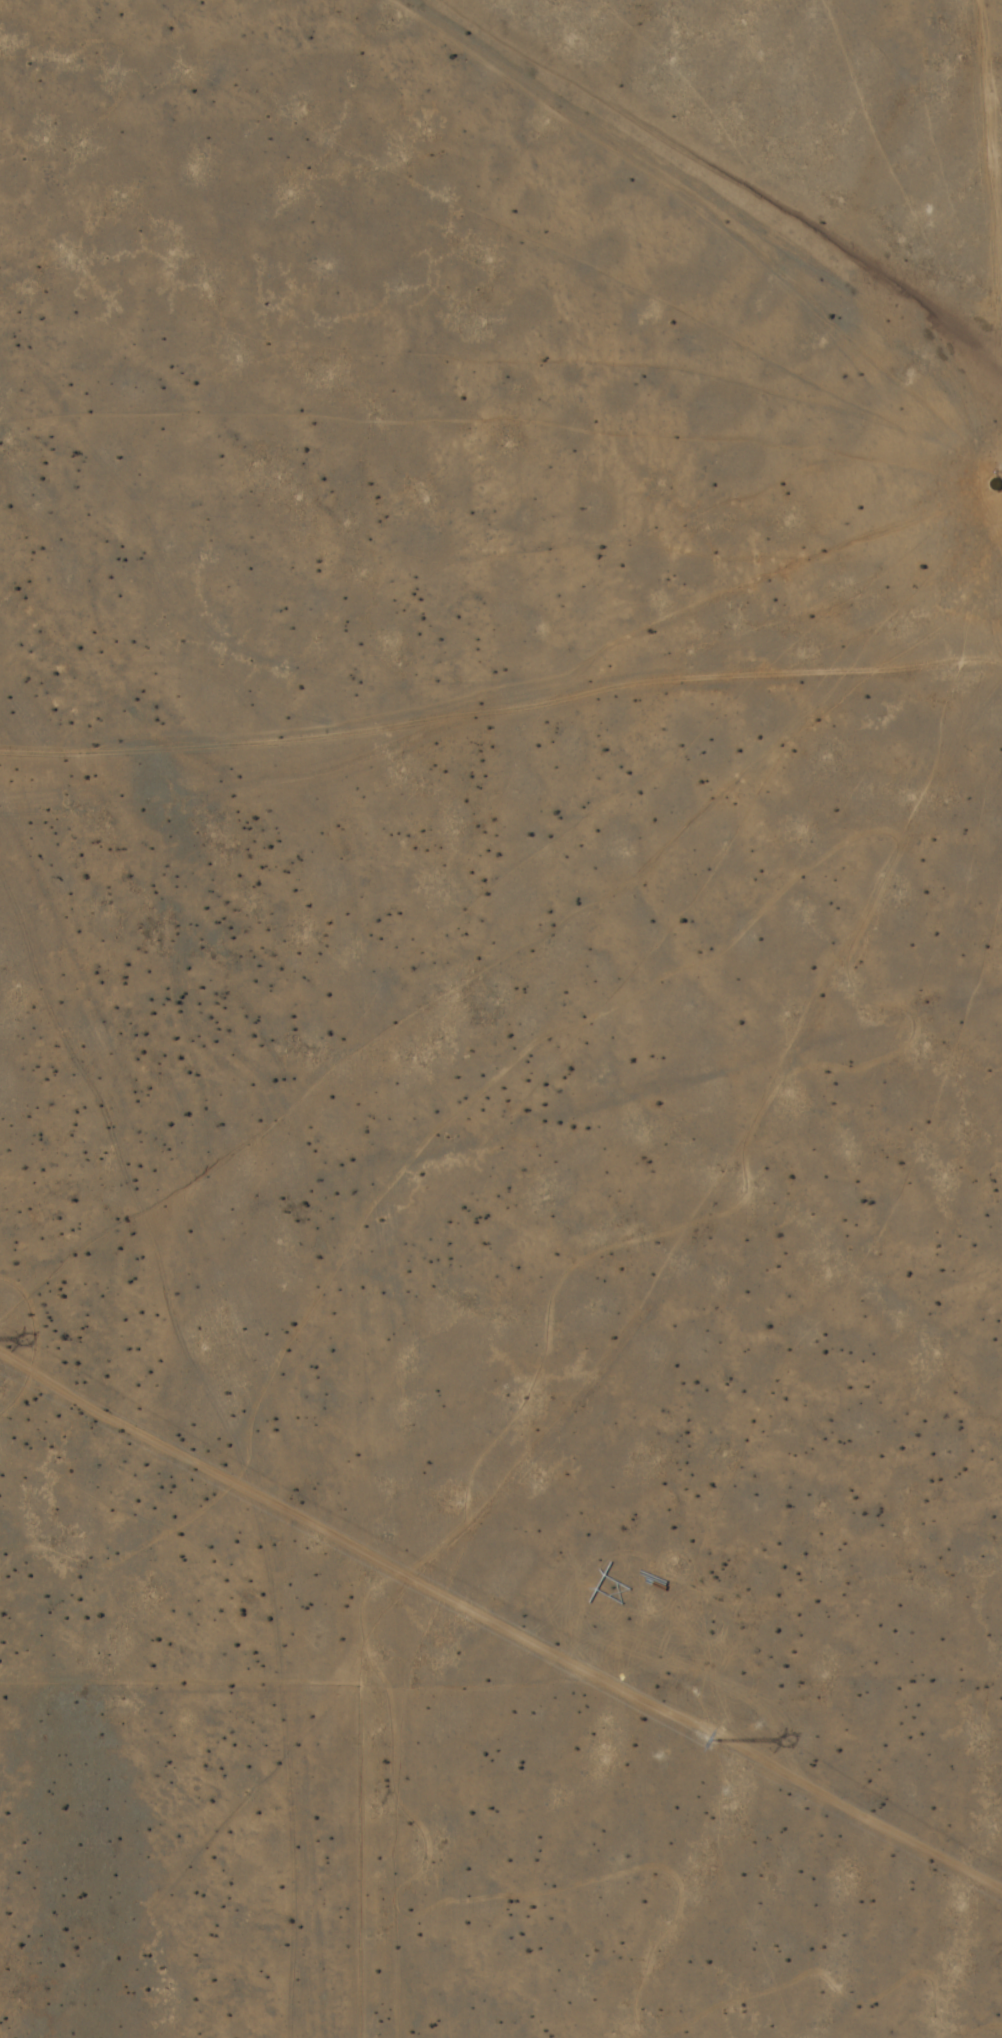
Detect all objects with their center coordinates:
road: (657, 218)
road: (356, 386)
road: (500, 736)
power tower: (708, 1740)

